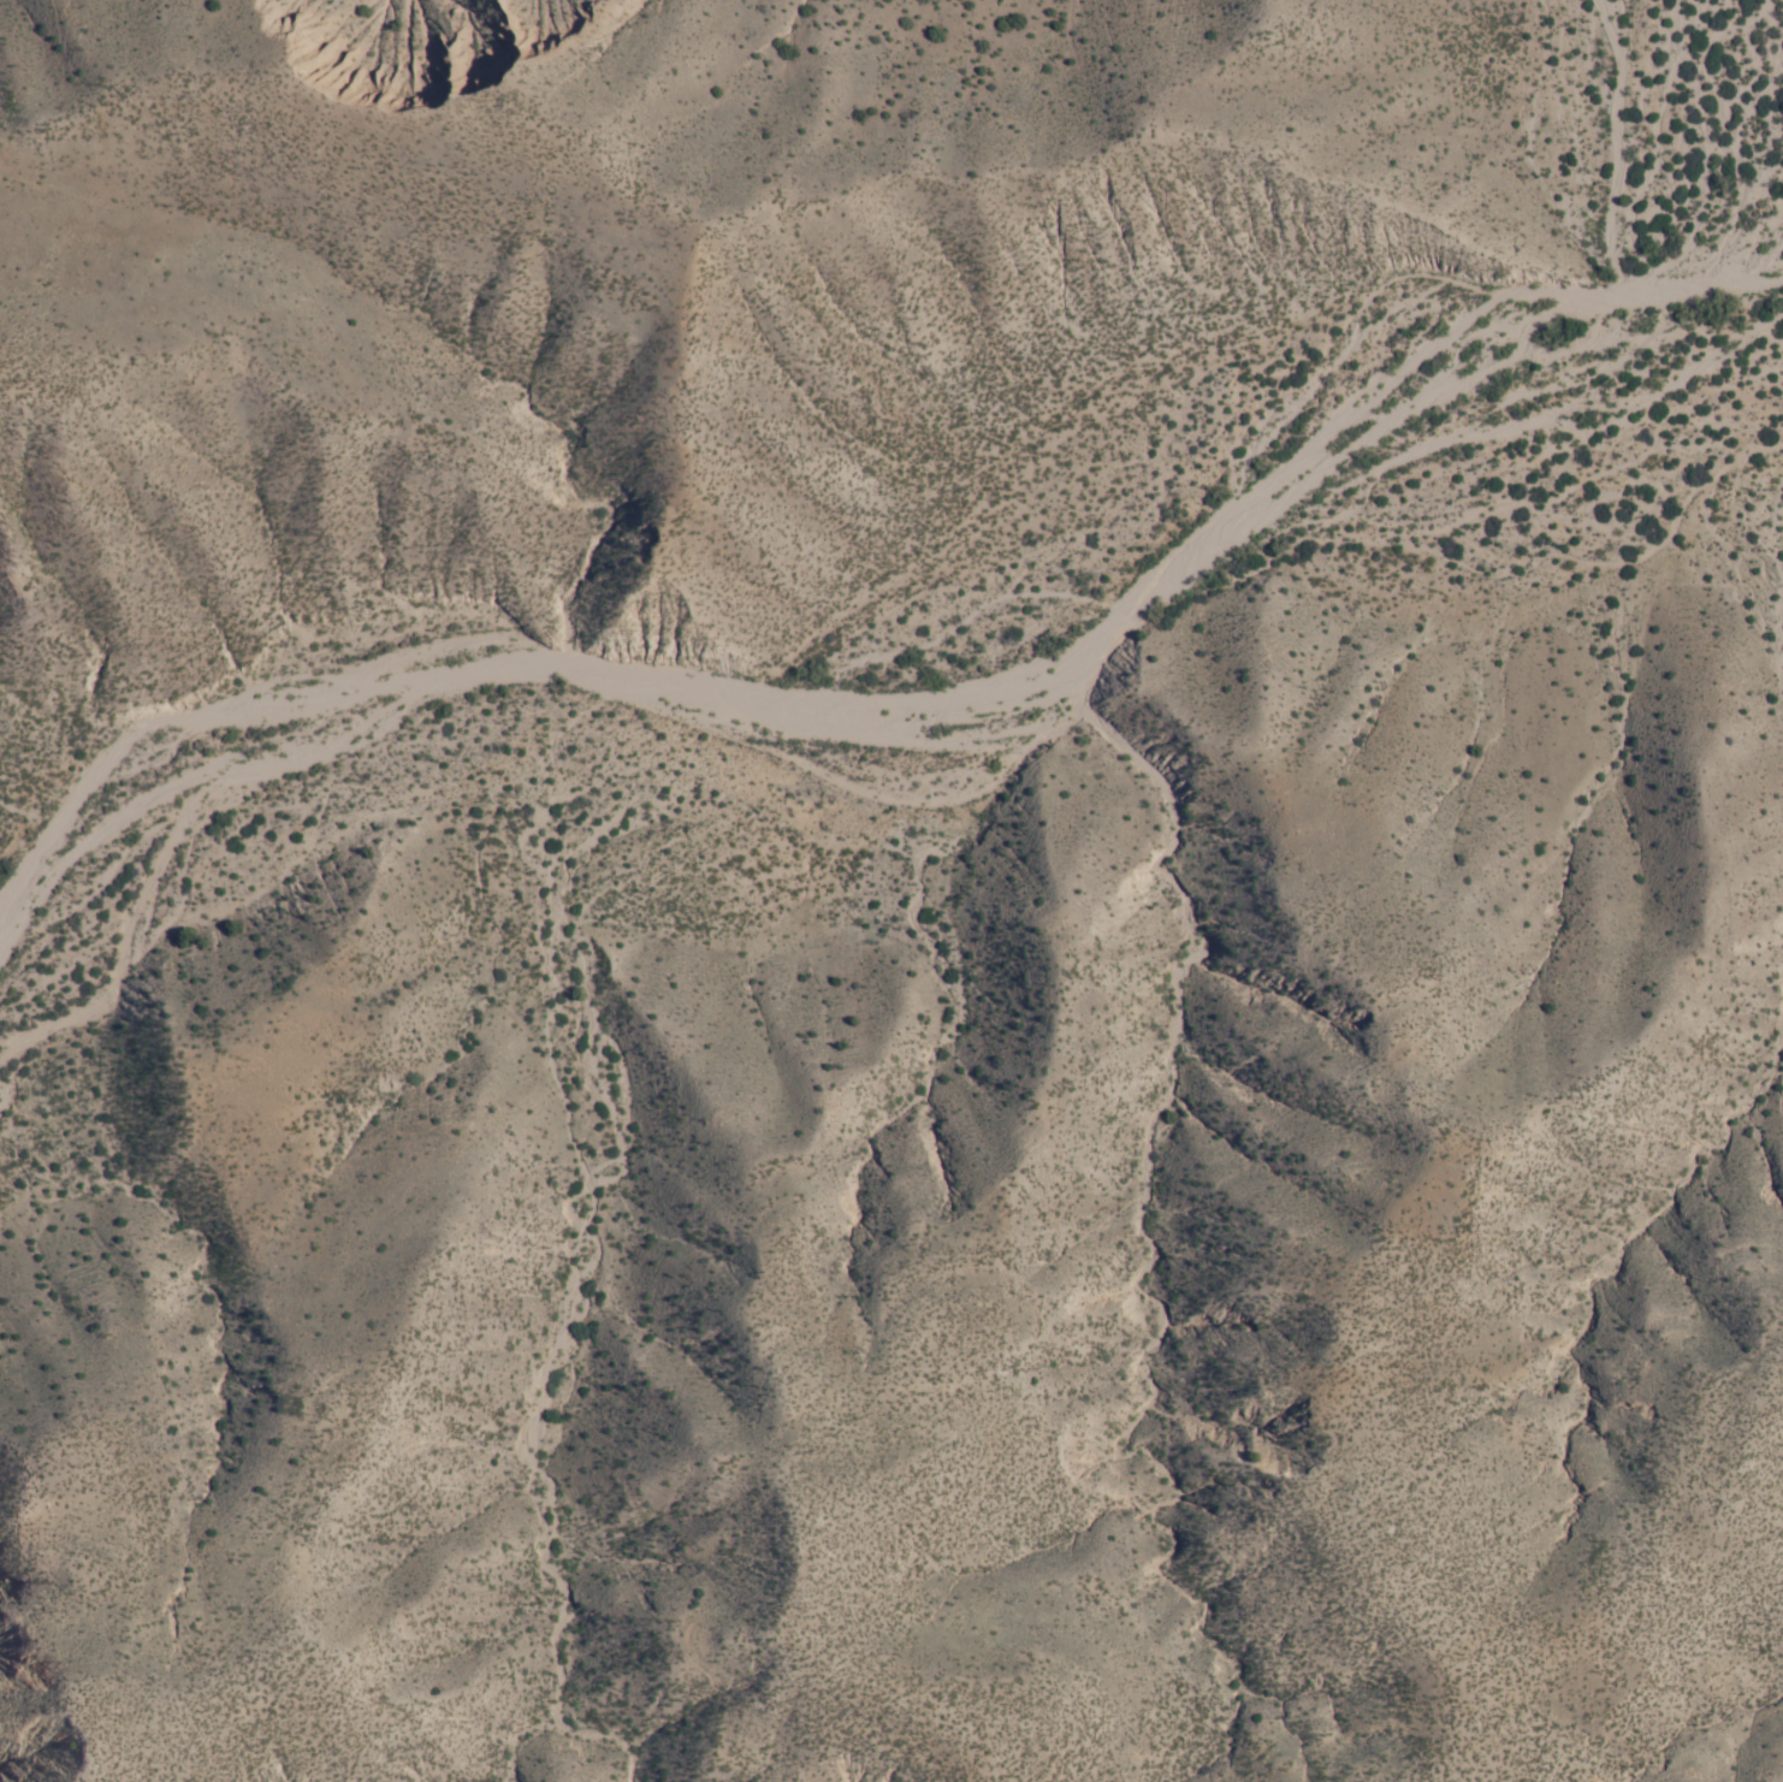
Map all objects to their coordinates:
road: (1619, 138)

